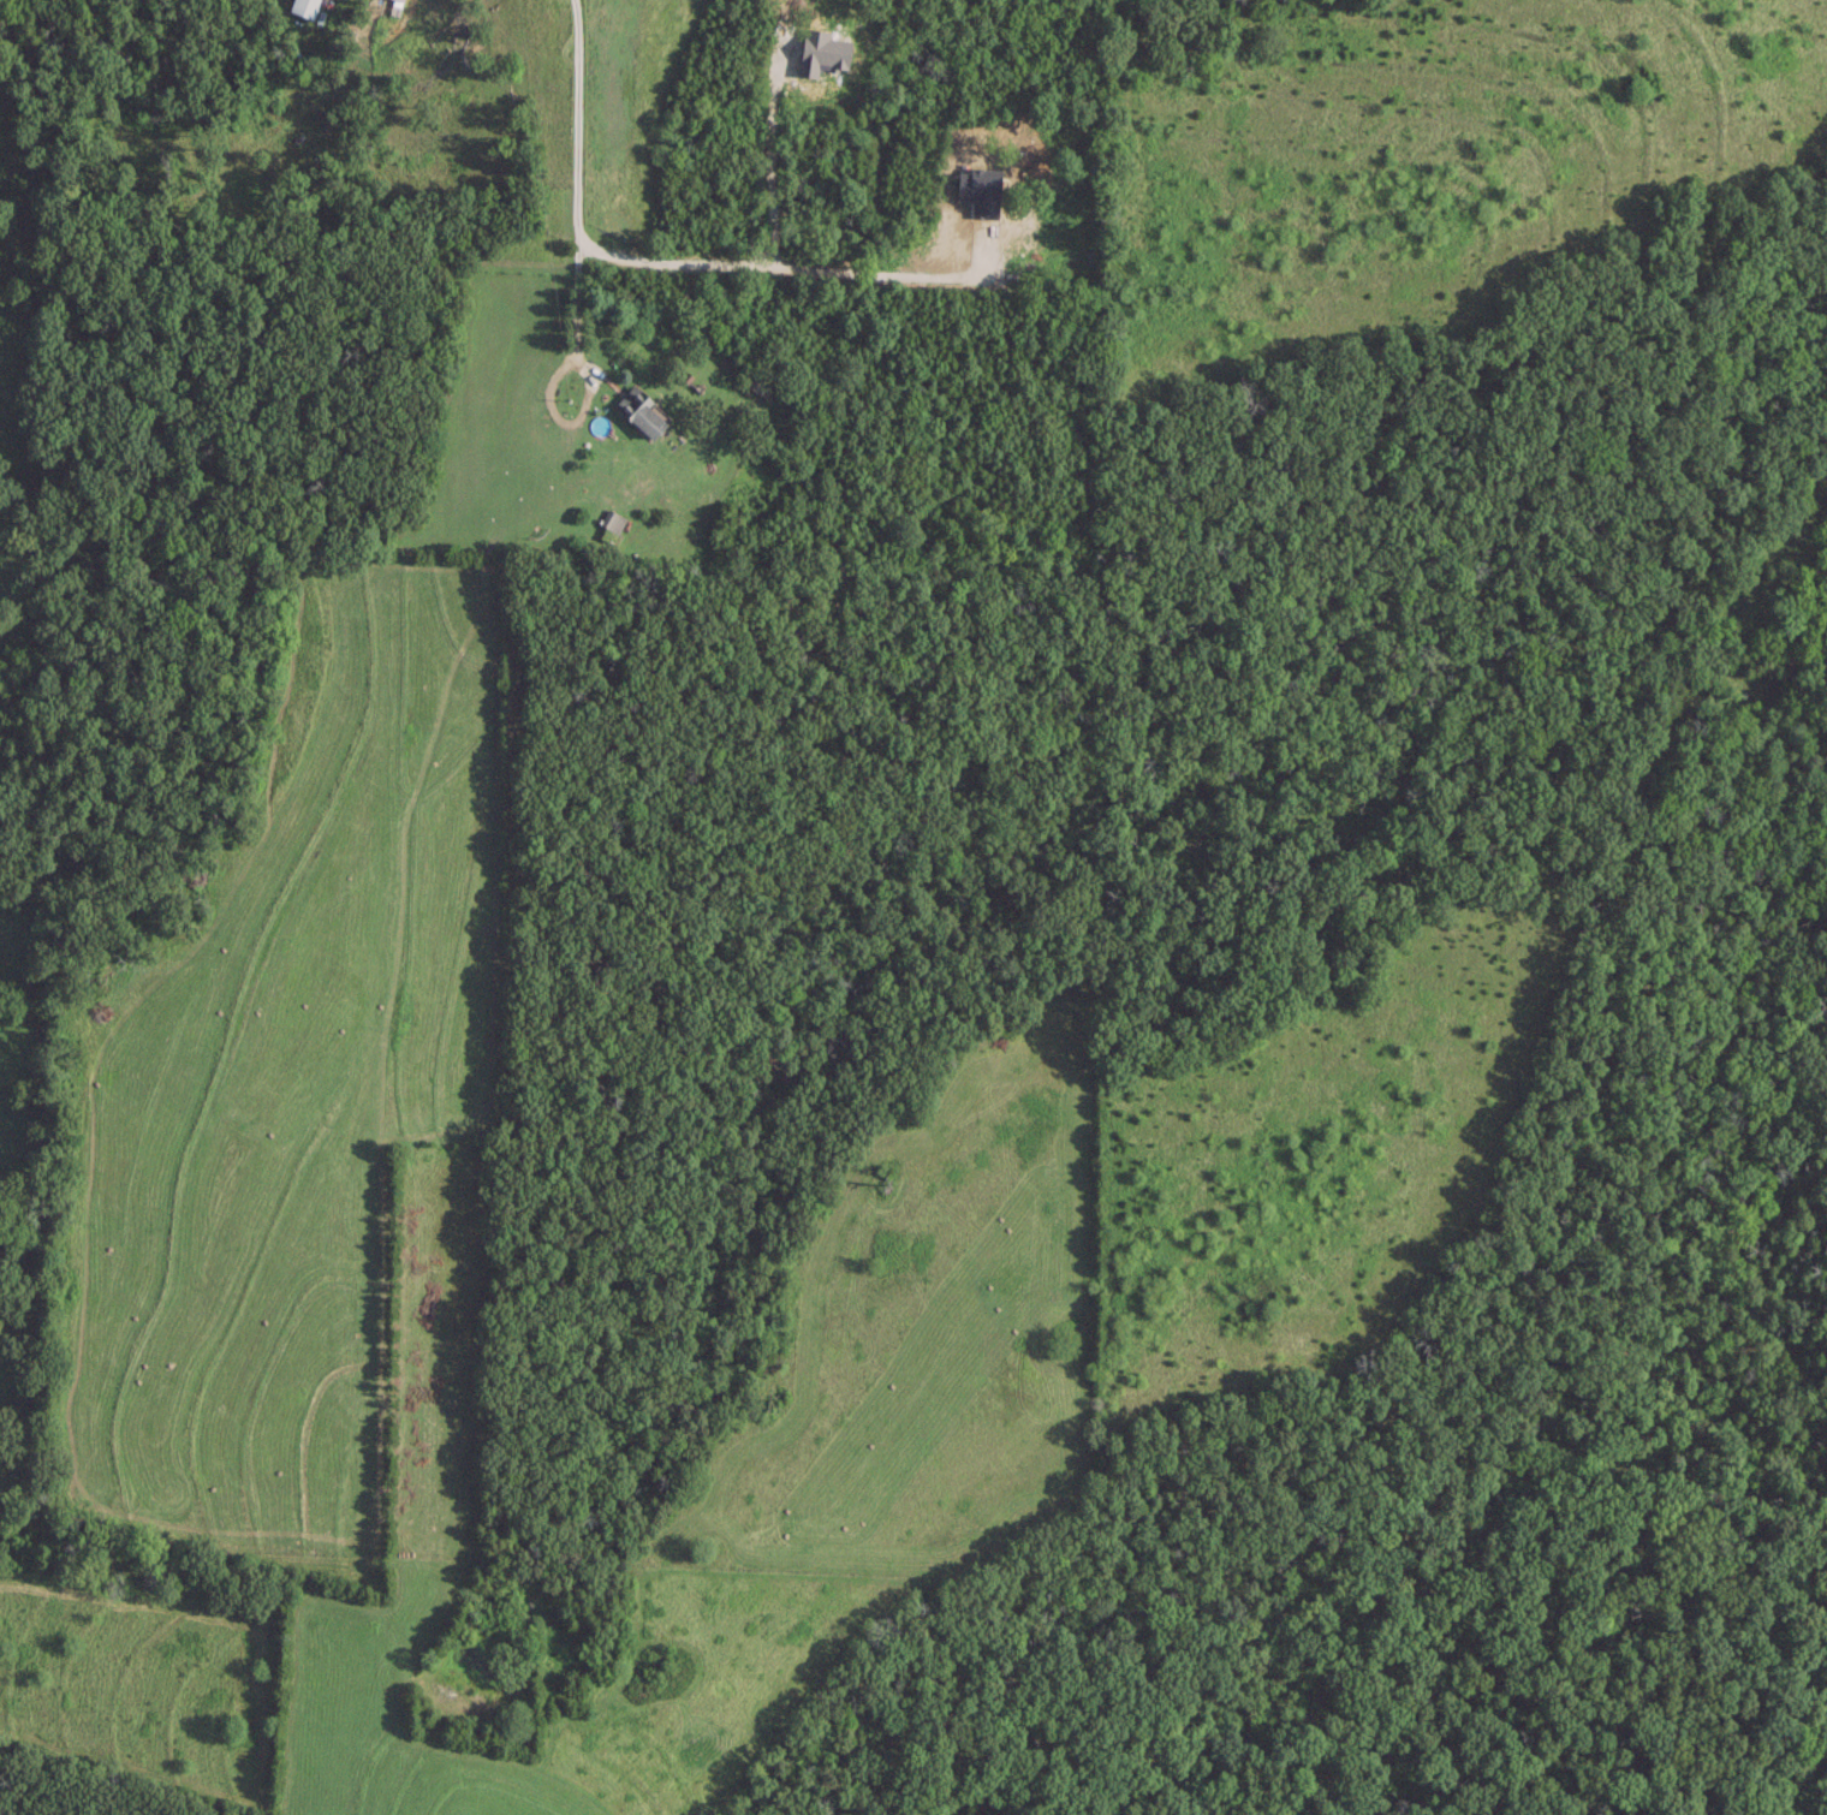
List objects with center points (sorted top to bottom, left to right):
building: (303, 6)
road: (578, 196)
road: (798, 274)
building: (642, 410)
building: (612, 519)

